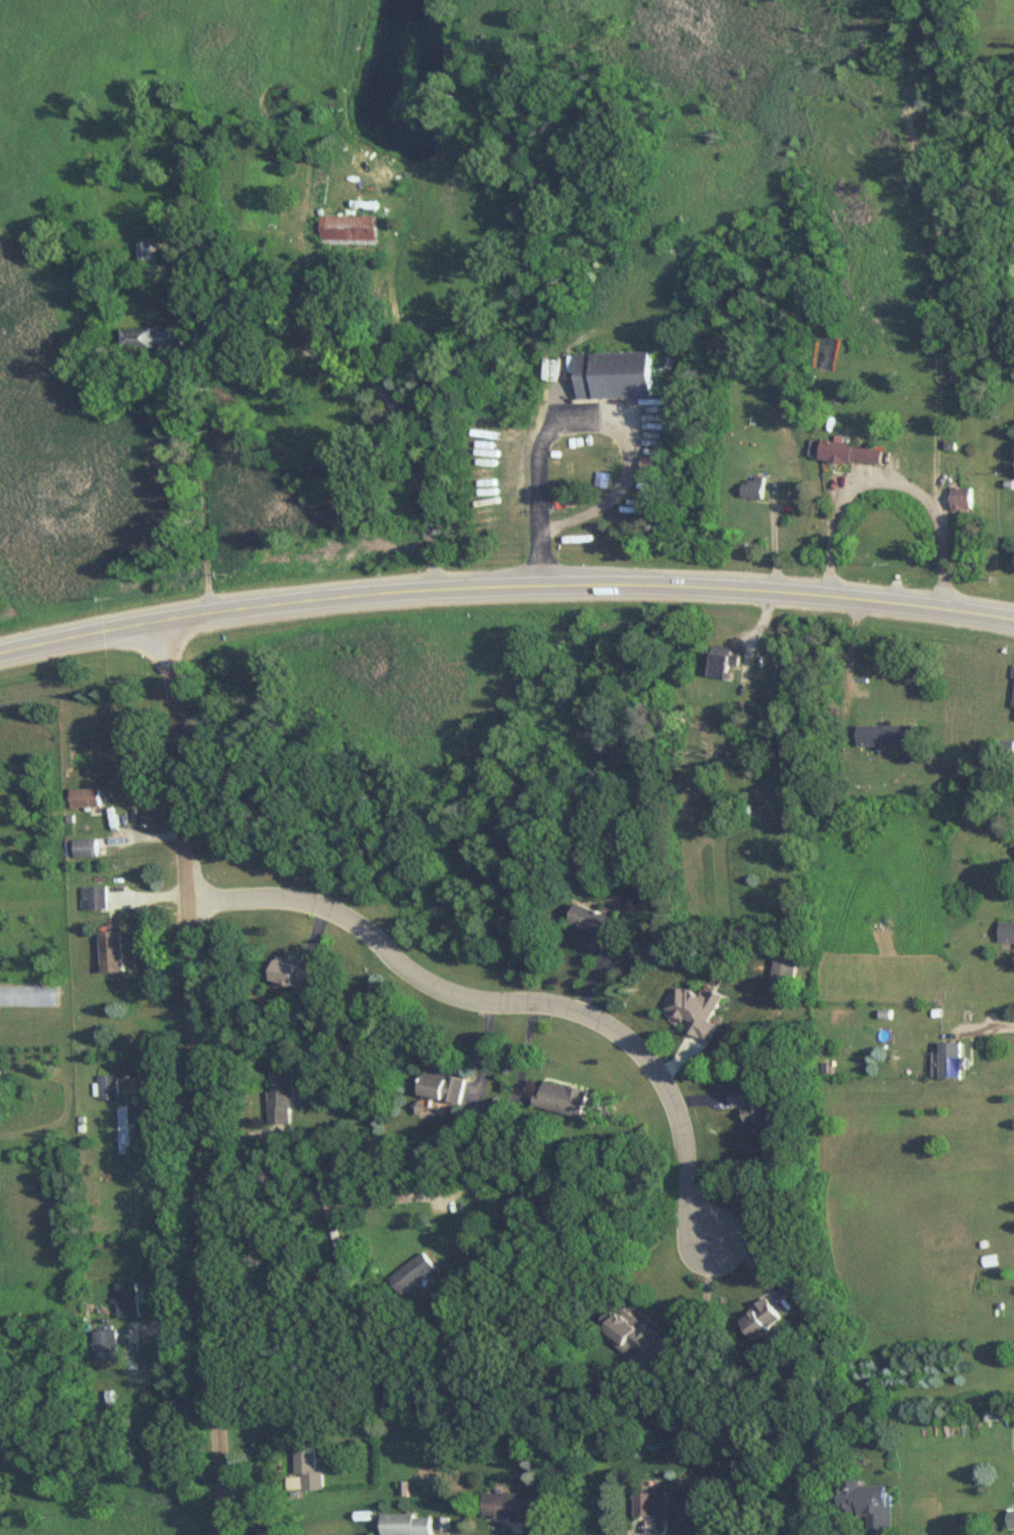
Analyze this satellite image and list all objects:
building: (348, 231)
building: (146, 254)
building: (154, 338)
building: (616, 374)
road: (373, 383)
road: (581, 417)
building: (852, 453)
road: (893, 485)
building: (754, 488)
road: (200, 493)
road: (536, 495)
road: (615, 496)
building: (963, 499)
road: (505, 582)
road: (165, 642)
road: (850, 642)
building: (723, 664)
building: (782, 672)
building: (888, 736)
building: (1009, 751)
building: (88, 798)
building: (86, 848)
building: (95, 898)
building: (596, 926)
building: (115, 952)
building: (787, 969)
building: (301, 976)
building: (29, 996)
road: (517, 996)
building: (702, 1011)
road: (998, 1029)
building: (956, 1061)
building: (109, 1087)
building: (447, 1087)
building: (1, 1089)
building: (285, 1098)
road: (201, 1100)
building: (567, 1100)
building: (755, 1102)
building: (127, 1129)
road: (313, 1209)
building: (417, 1274)
building: (130, 1301)
road: (705, 1304)
building: (765, 1321)
building: (630, 1333)
building: (110, 1346)
building: (311, 1471)
building: (670, 1505)
building: (874, 1506)
building: (510, 1507)
building: (1013, 1519)
building: (408, 1525)

